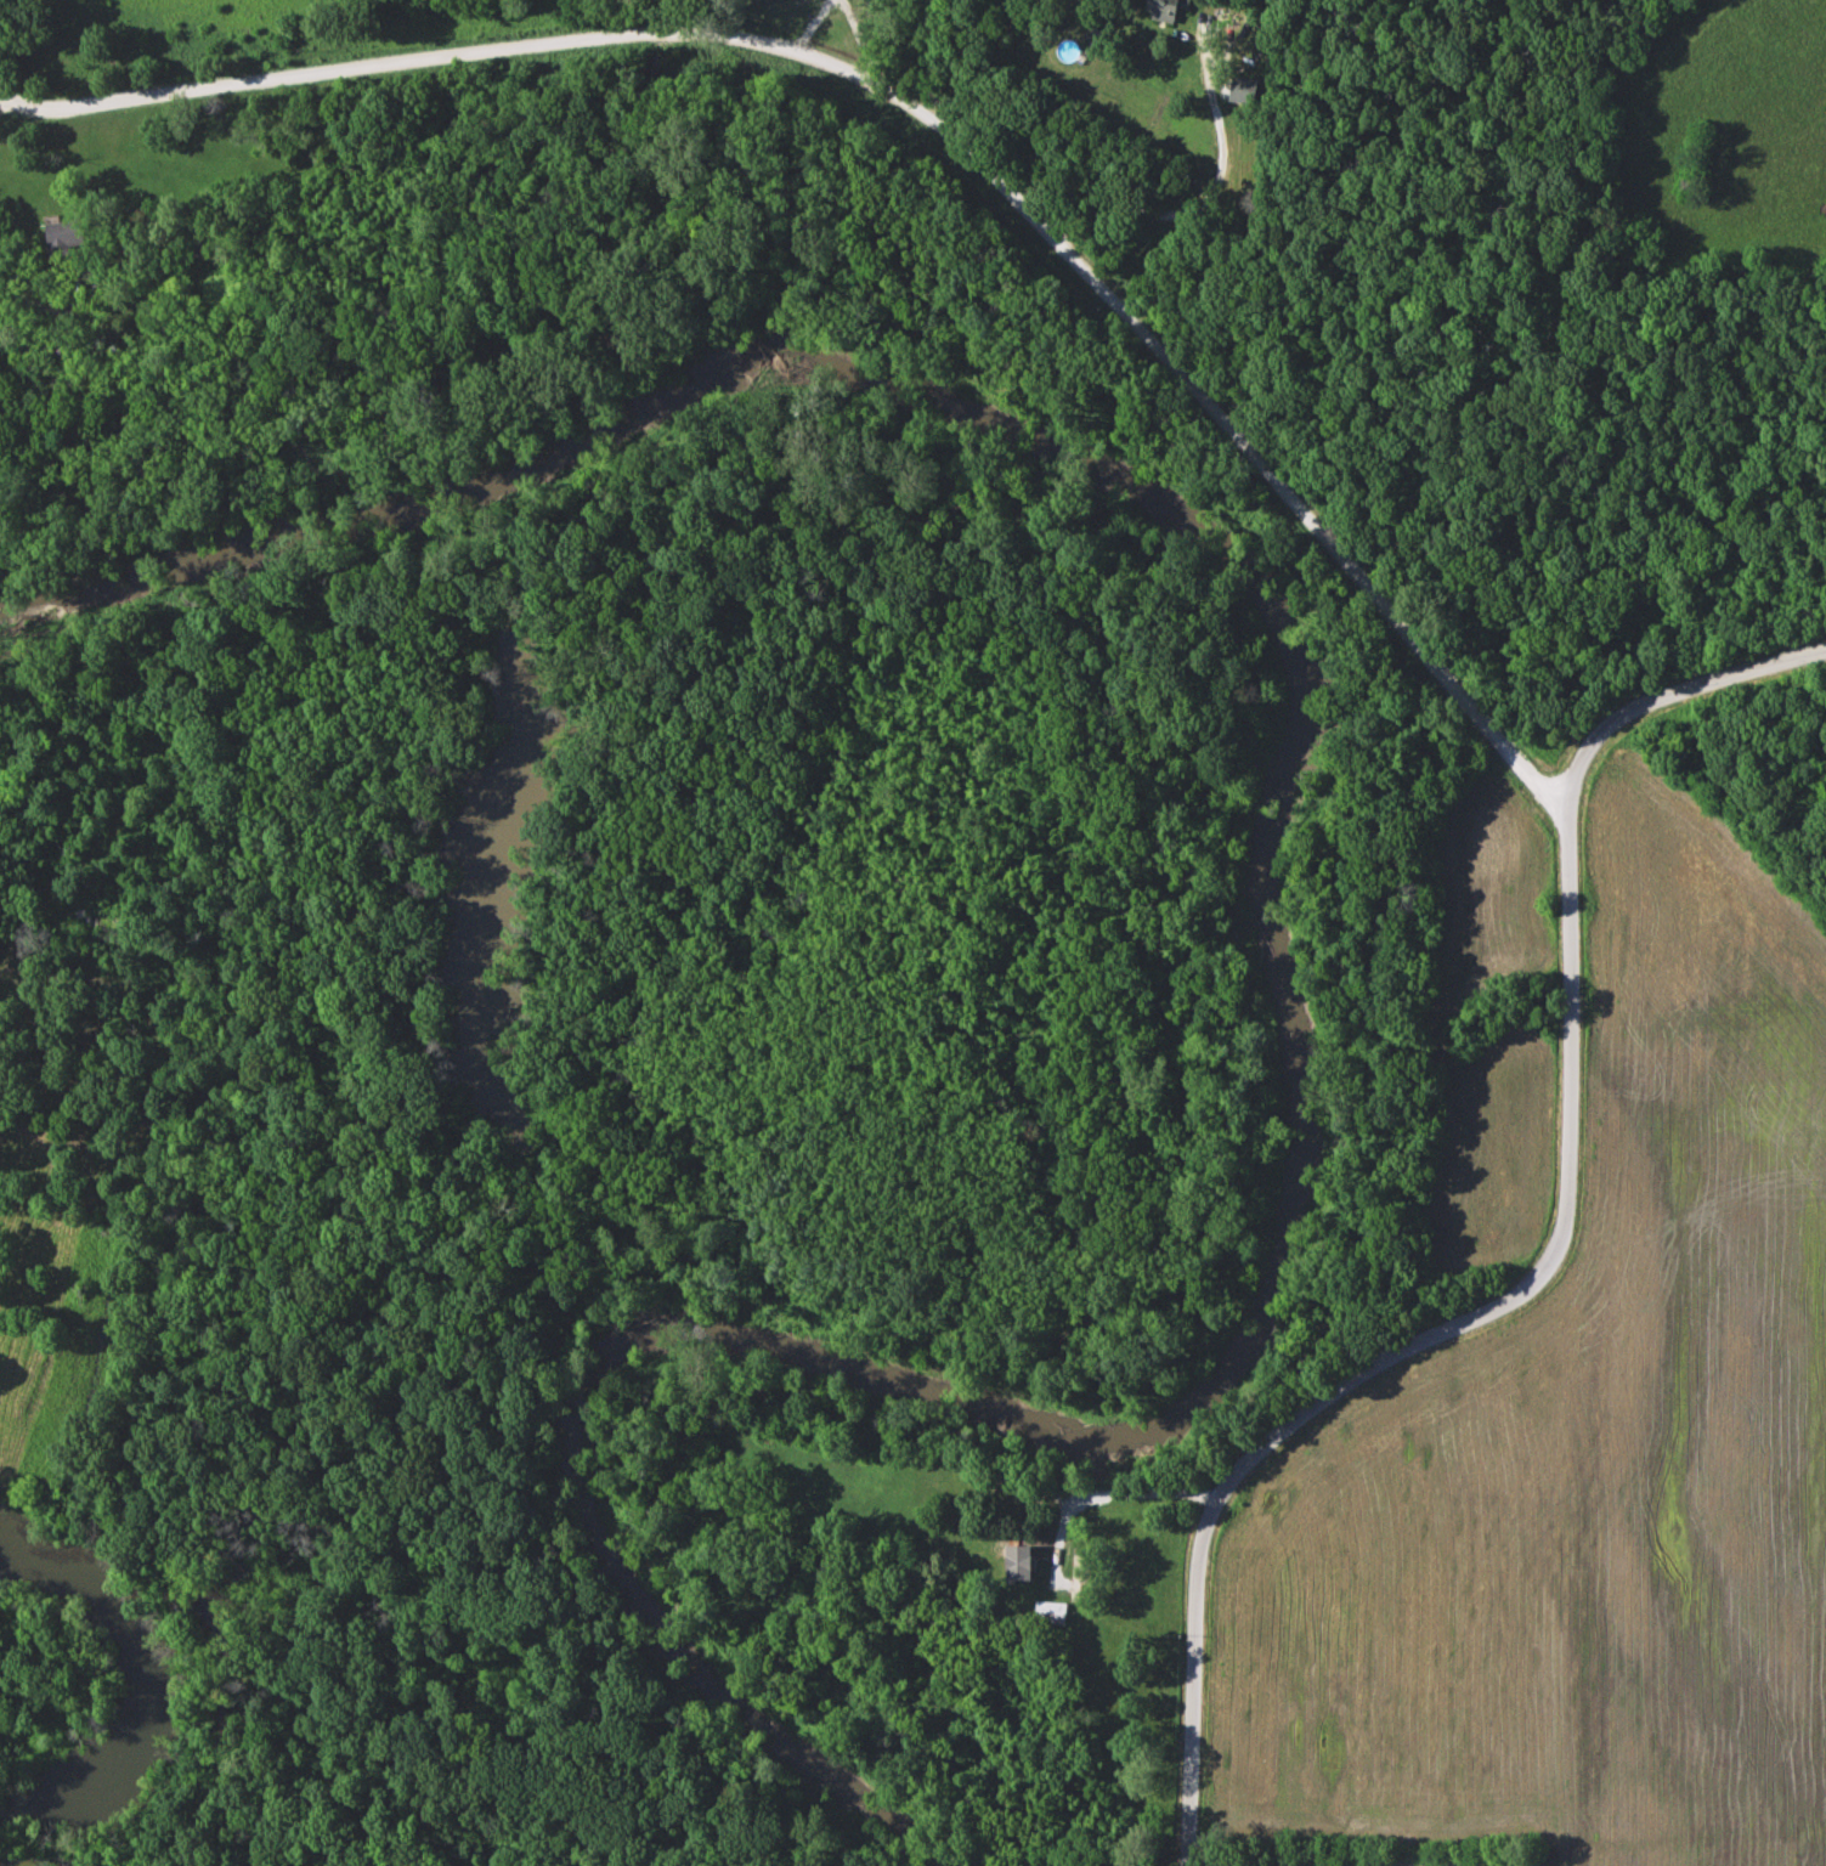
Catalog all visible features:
building: (1166, 9)
road: (809, 21)
building: (1245, 90)
road: (2, 108)
road: (926, 115)
road: (1206, 202)
building: (67, 236)
road: (30, 301)
road: (1662, 696)
building: (103, 921)
river: (1285, 968)
road: (1409, 1350)
road: (1104, 1495)
building: (1023, 1562)
building: (1052, 1613)

